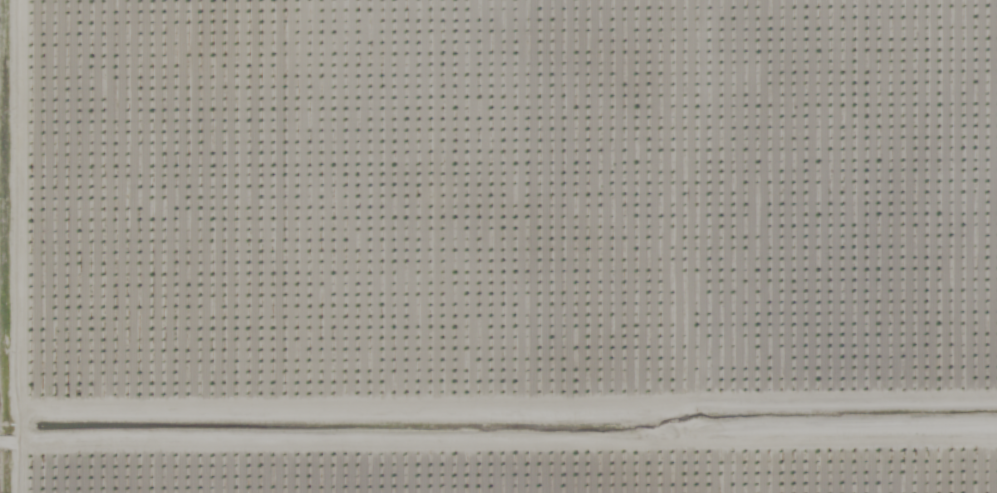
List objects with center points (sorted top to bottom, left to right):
crop: (514, 246)
road: (31, 248)
road: (525, 345)

